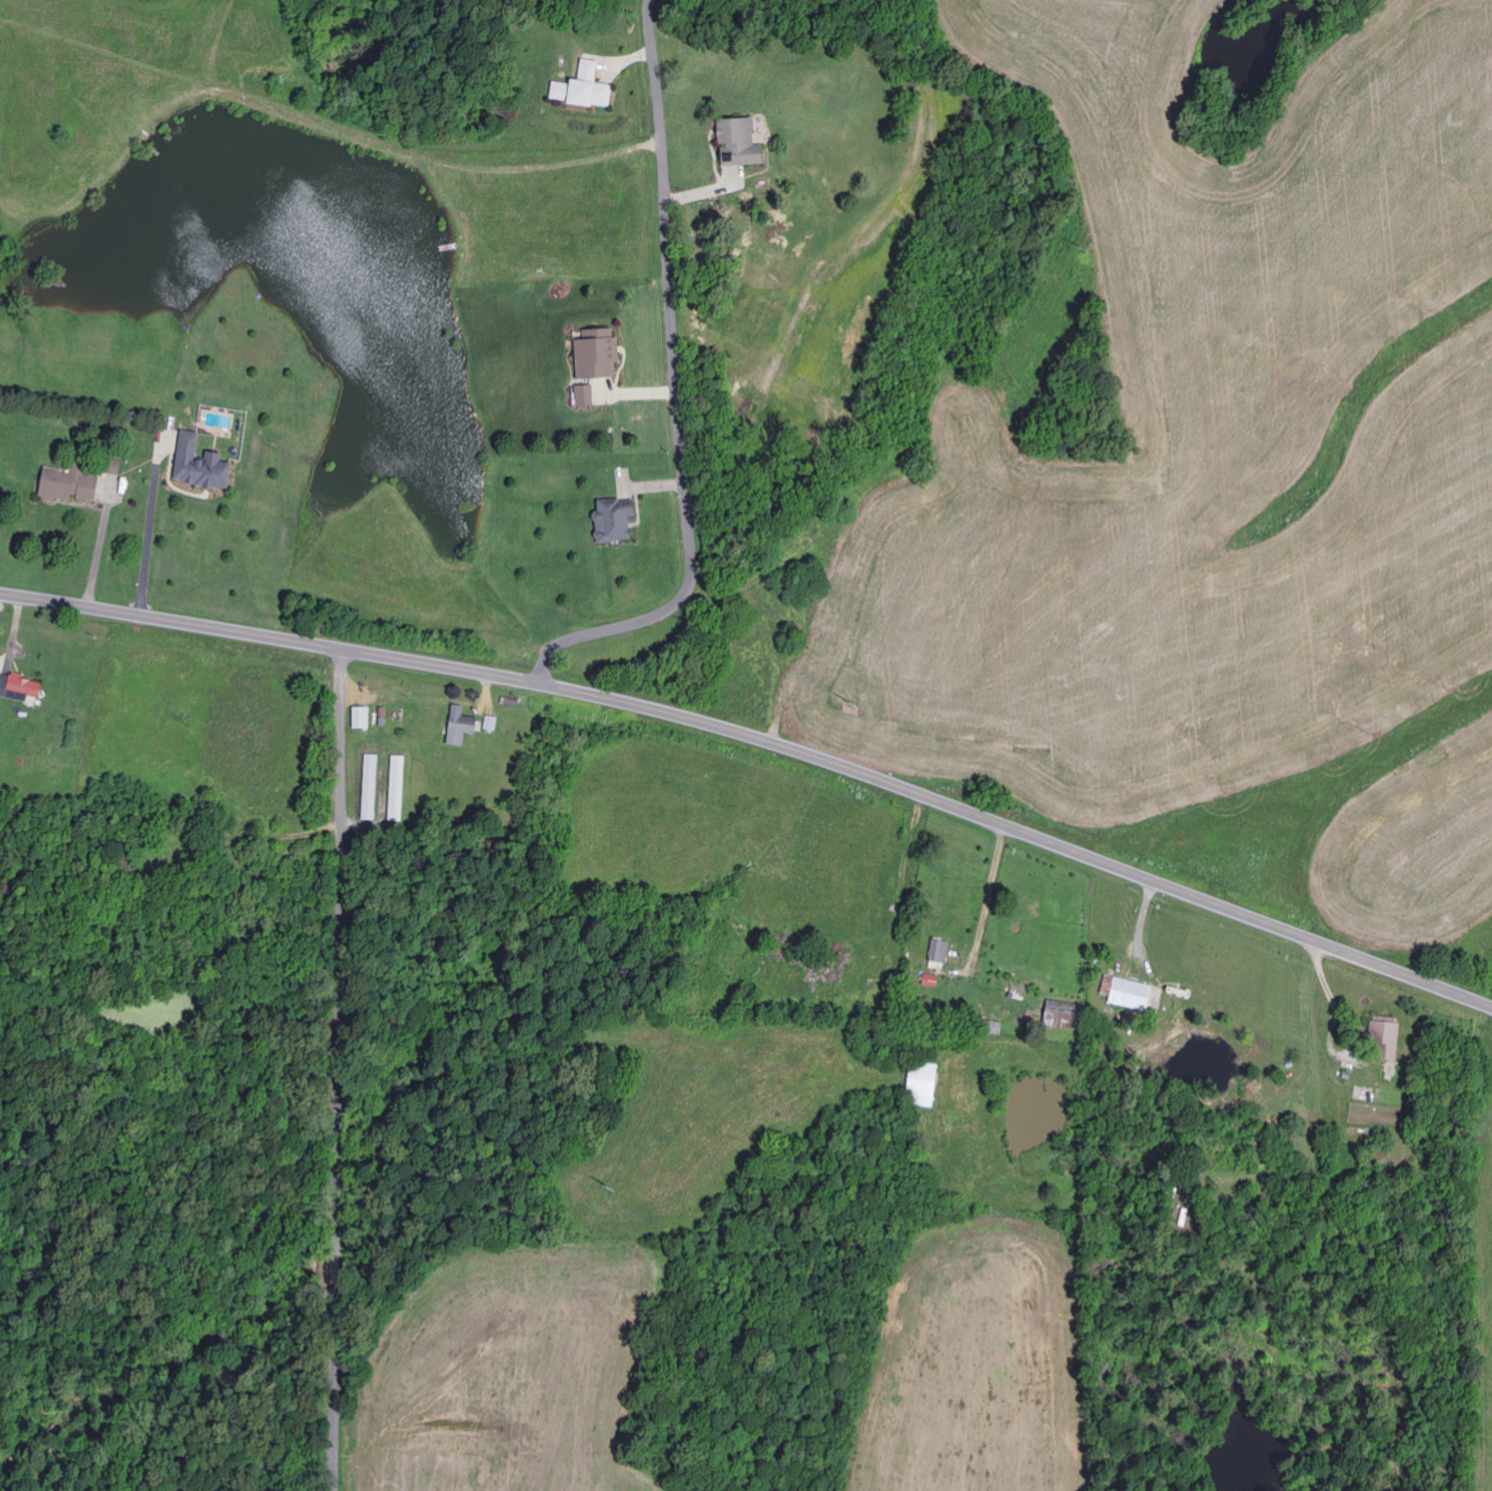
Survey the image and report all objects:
building: (585, 89)
building: (741, 143)
building: (598, 354)
road: (678, 386)
building: (586, 396)
building: (203, 465)
building: (71, 484)
building: (616, 520)
building: (20, 688)
building: (363, 718)
building: (491, 724)
building: (462, 726)
road: (762, 735)
building: (371, 787)
building: (398, 789)
building: (941, 952)
building: (1134, 992)
building: (1064, 1016)
building: (1389, 1041)
road: (339, 1068)
building: (924, 1084)

